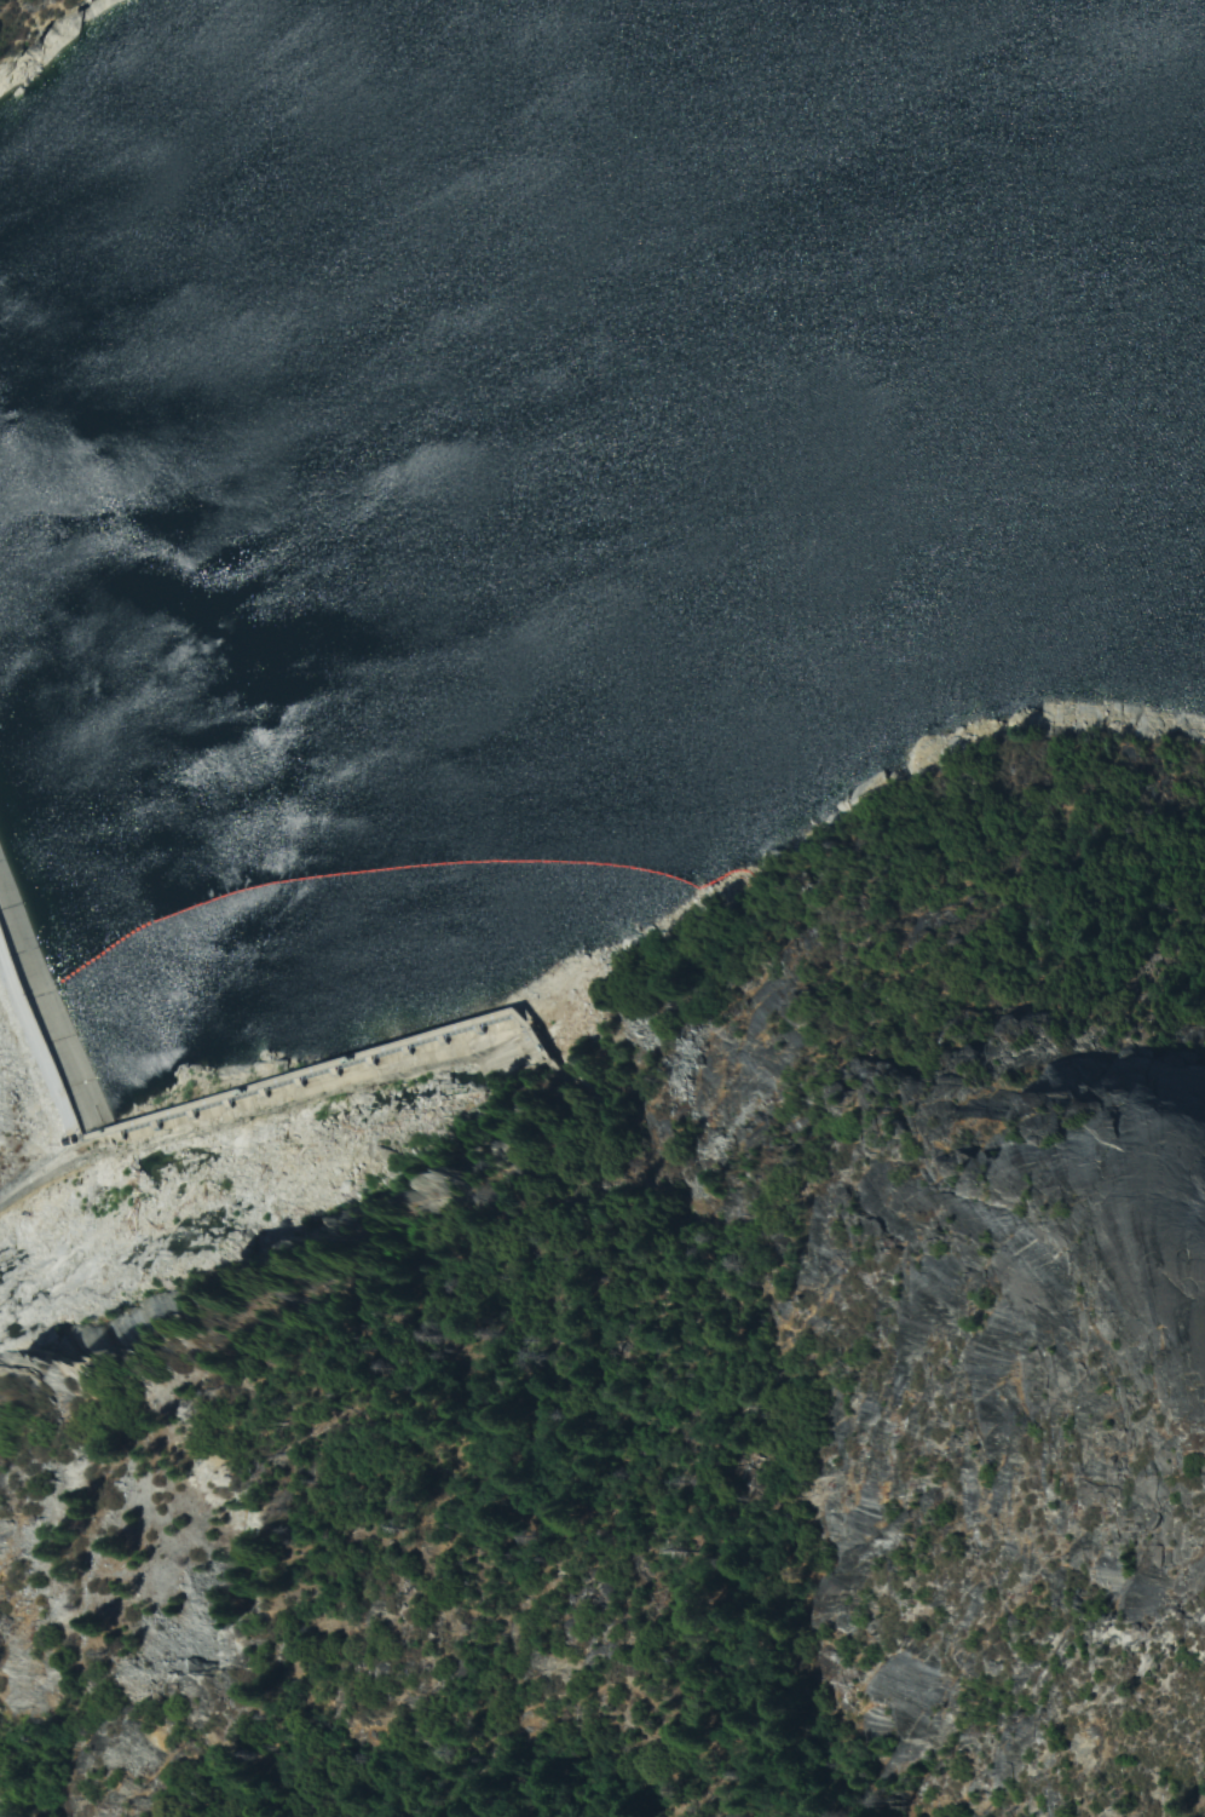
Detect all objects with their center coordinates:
dam: (30, 1047)

